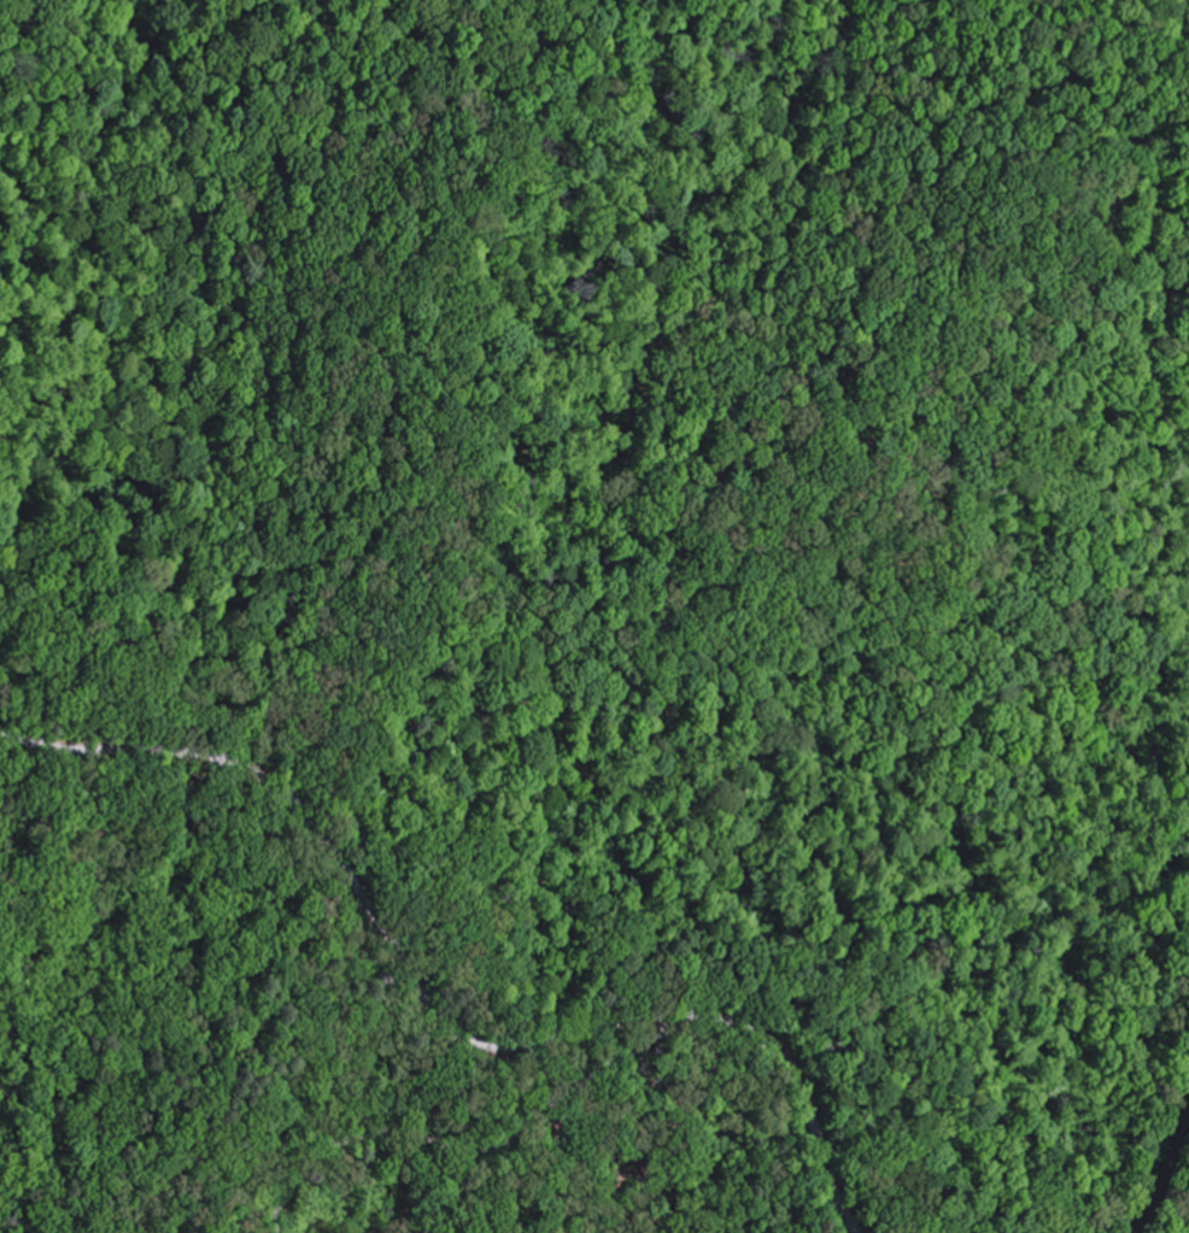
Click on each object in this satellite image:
road: (434, 1011)
road: (481, 1152)

